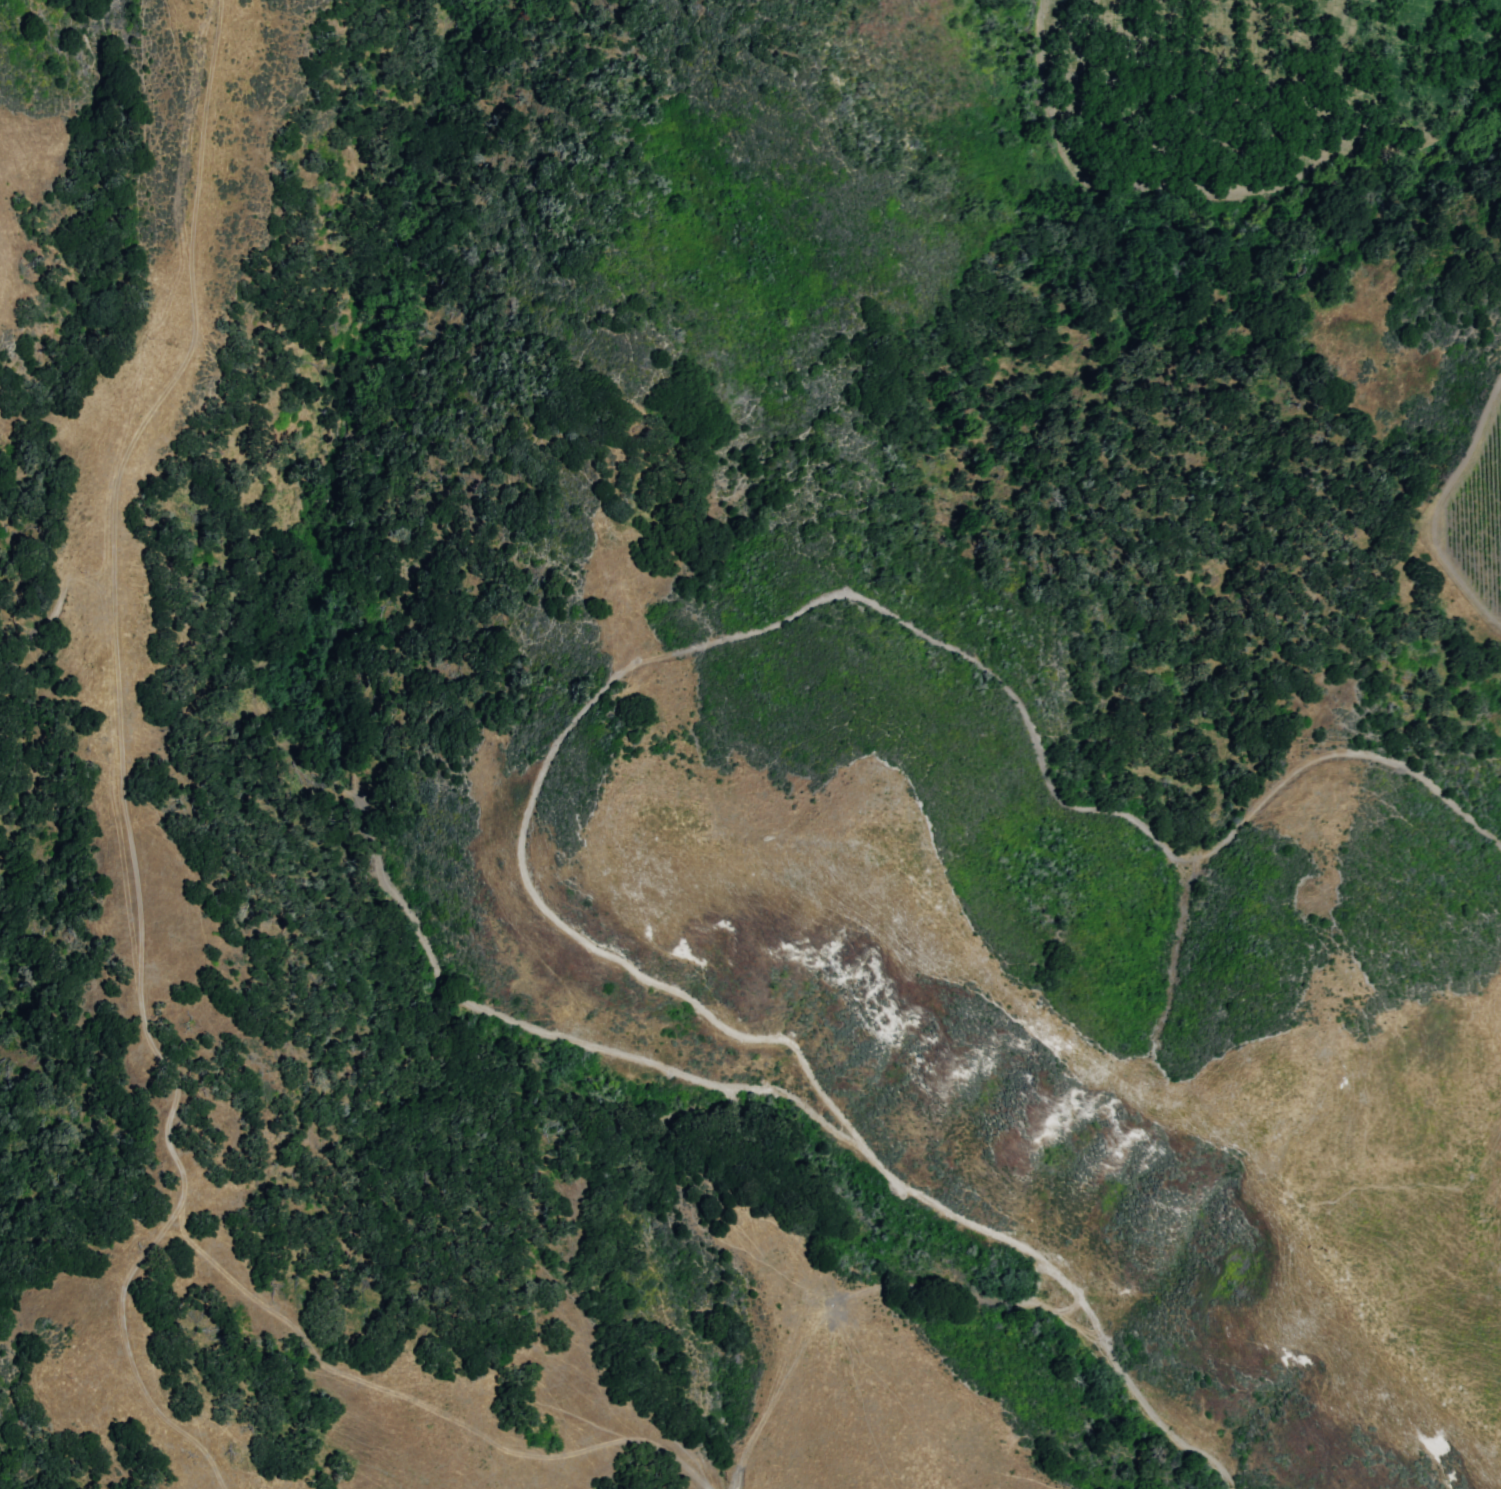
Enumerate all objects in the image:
crop: (1281, 75)
crop: (1480, 522)

